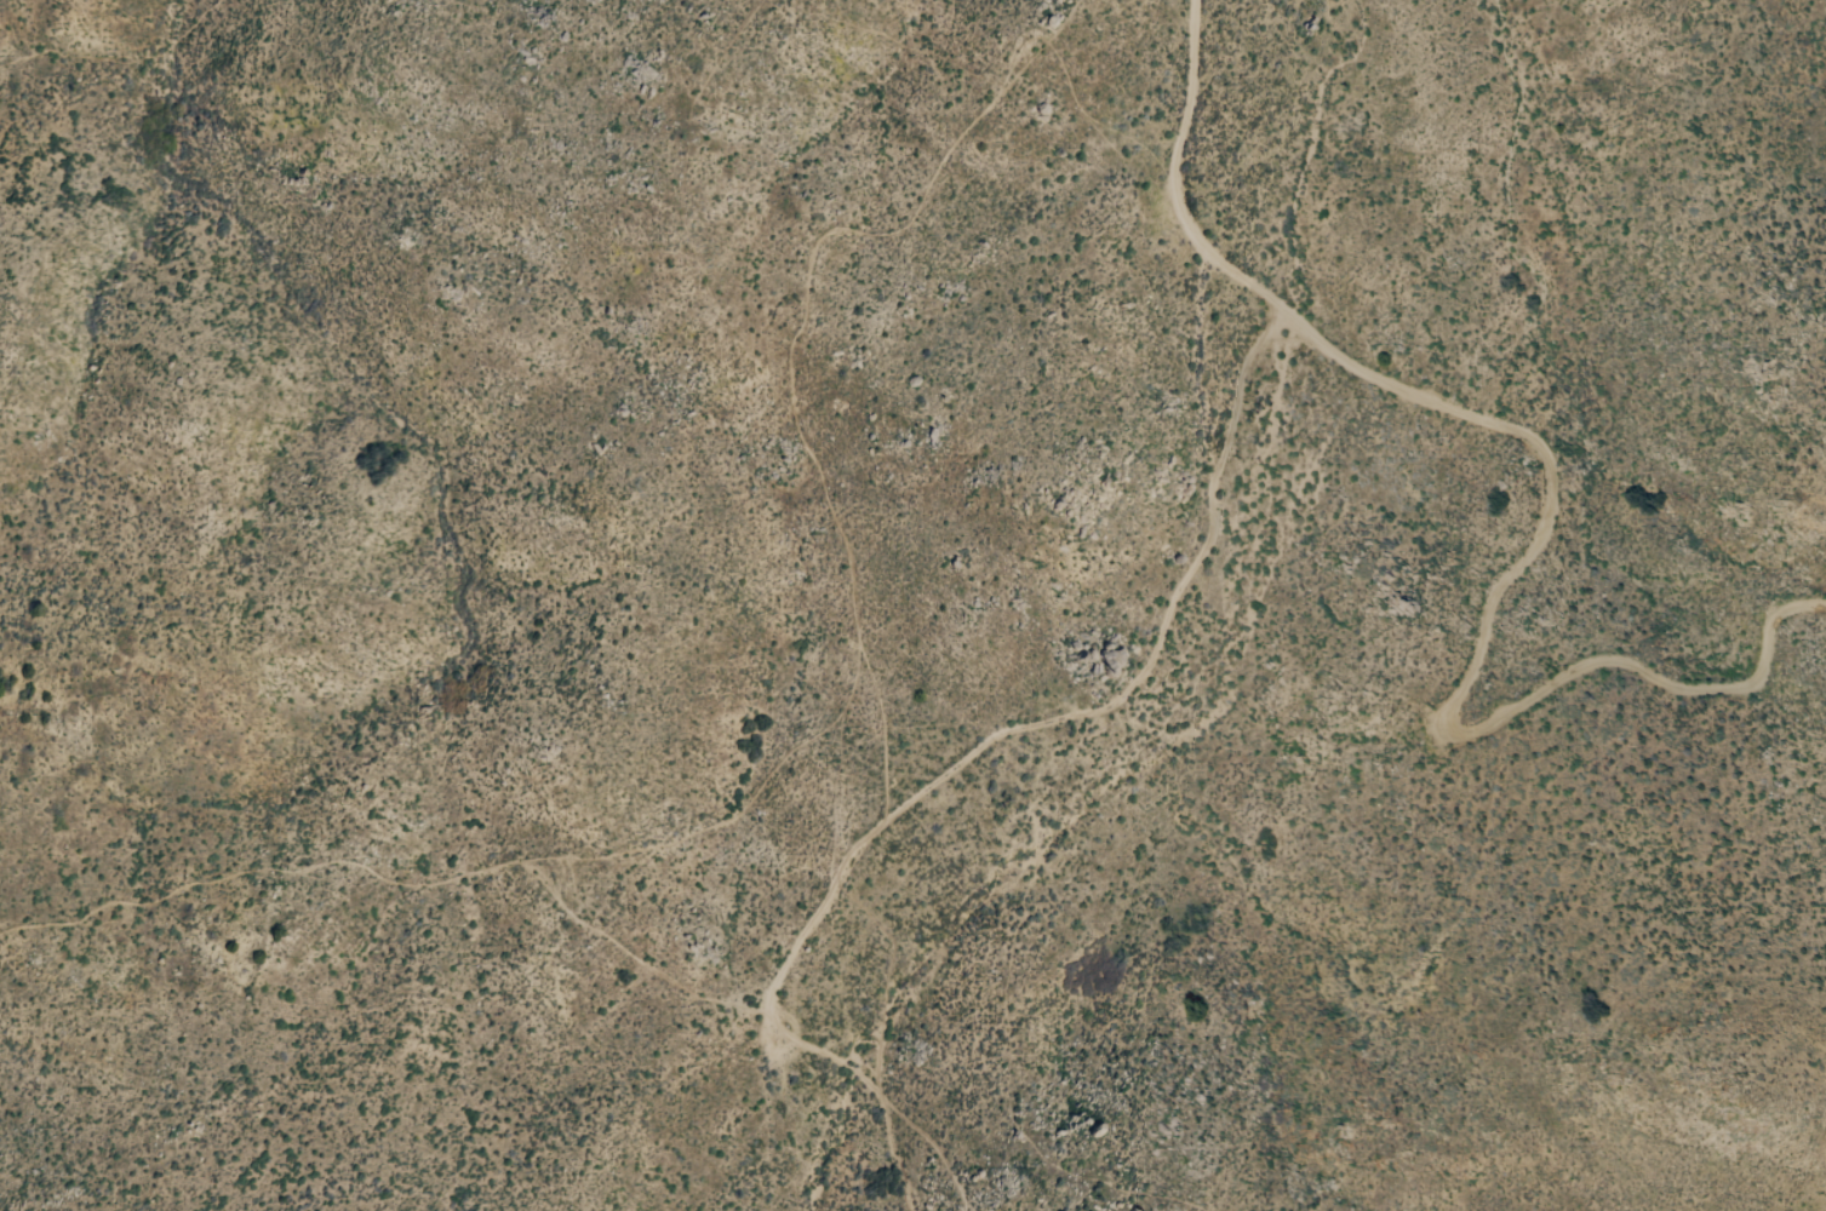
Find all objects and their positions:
road: (1538, 475)

